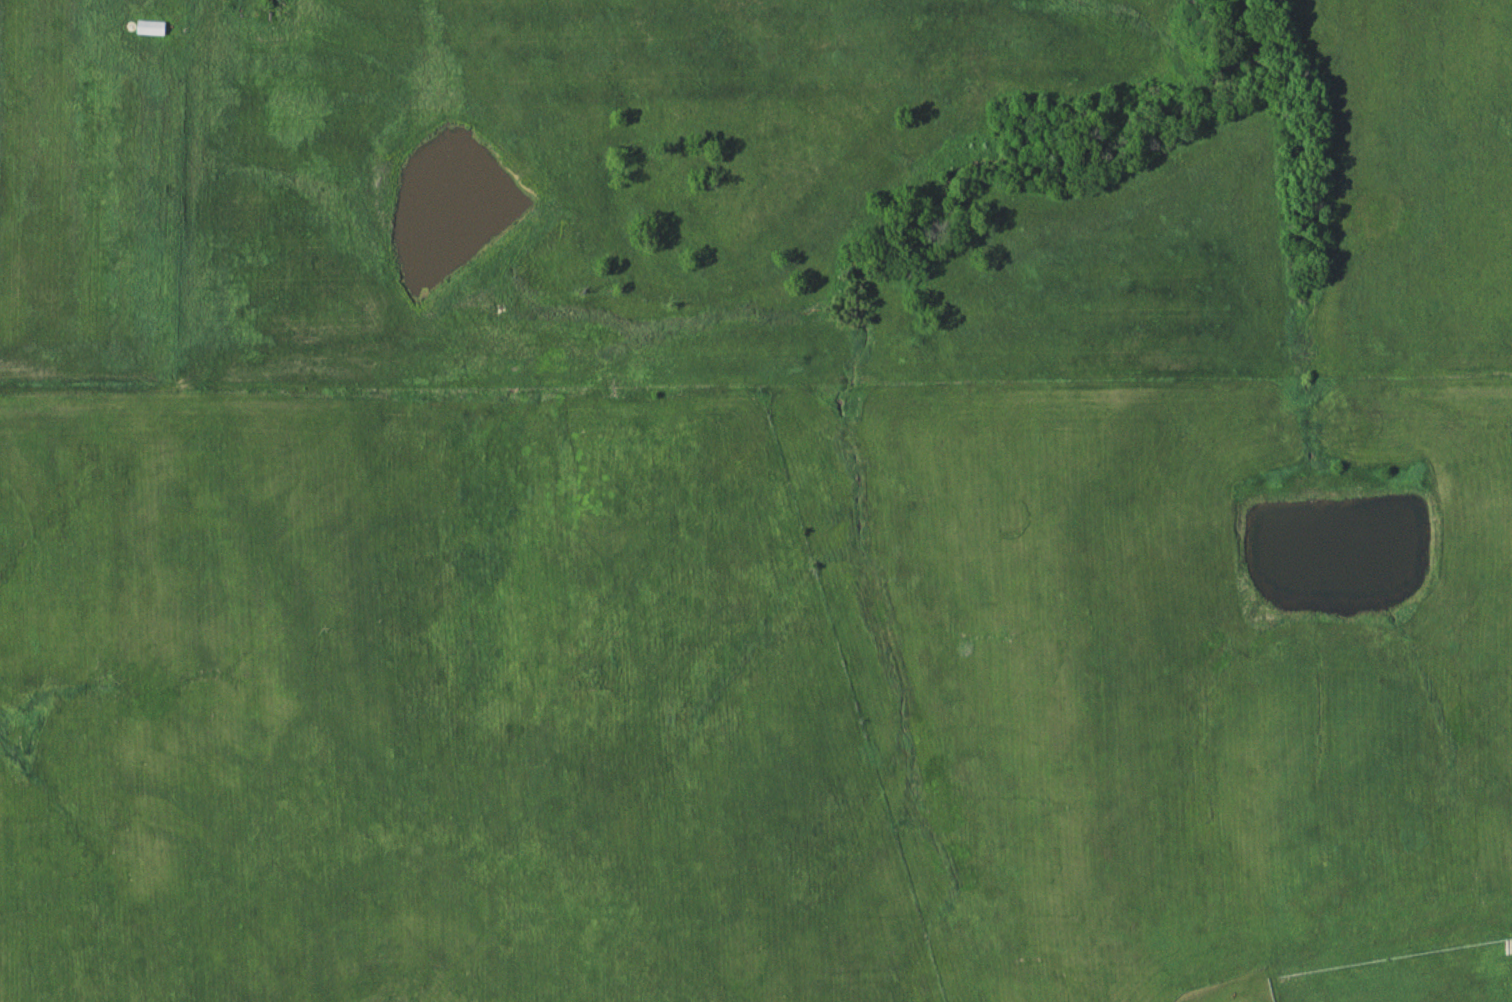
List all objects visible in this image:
building: (149, 27)

